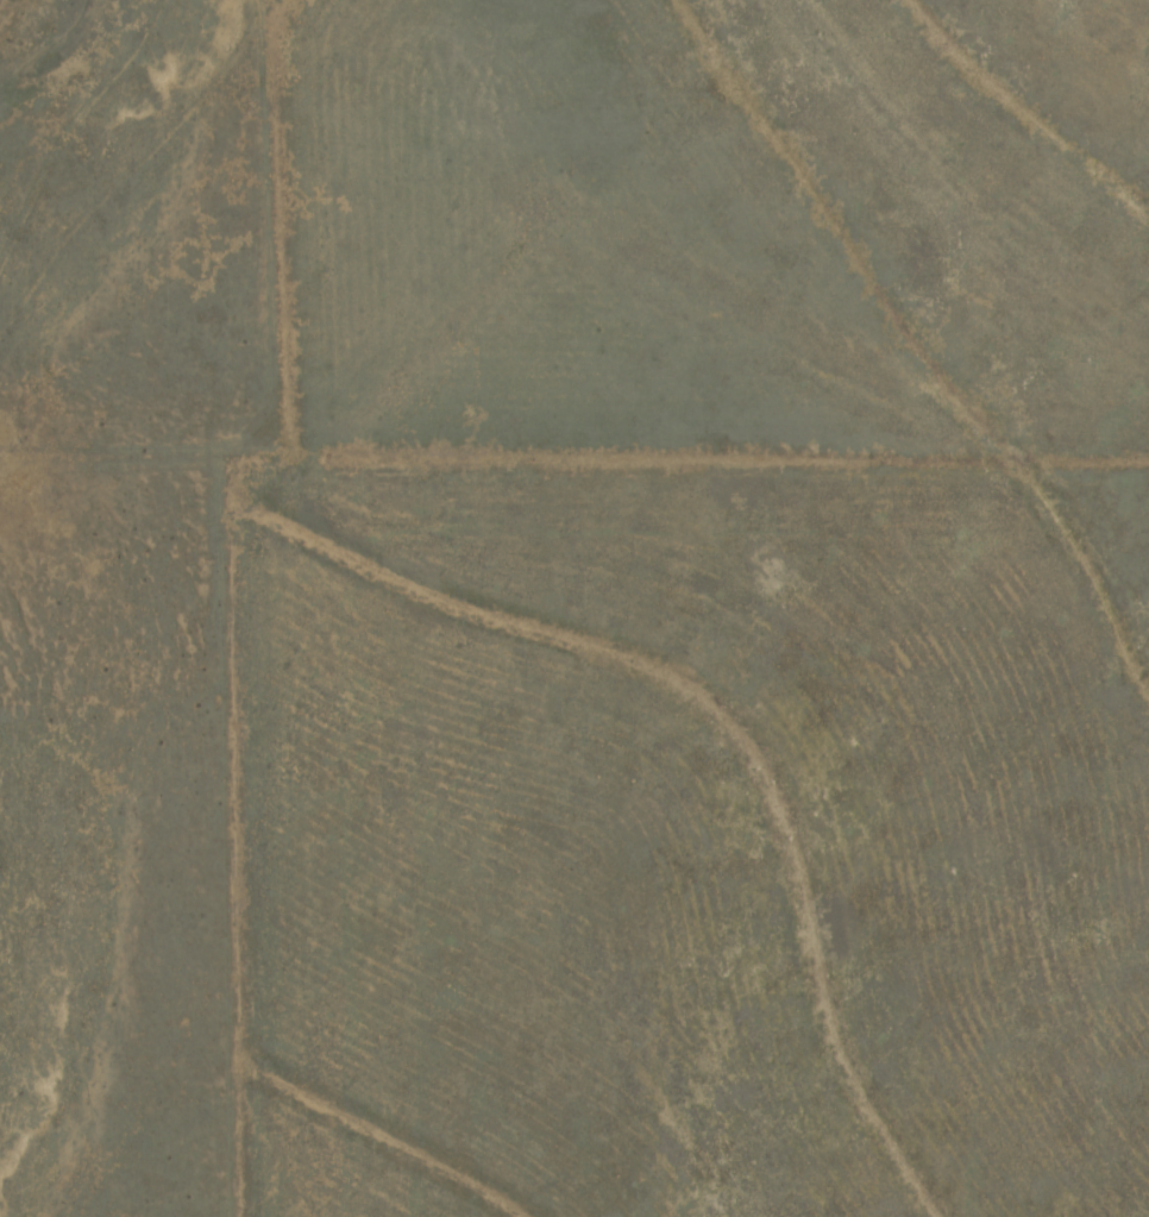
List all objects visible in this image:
road: (82, 208)

